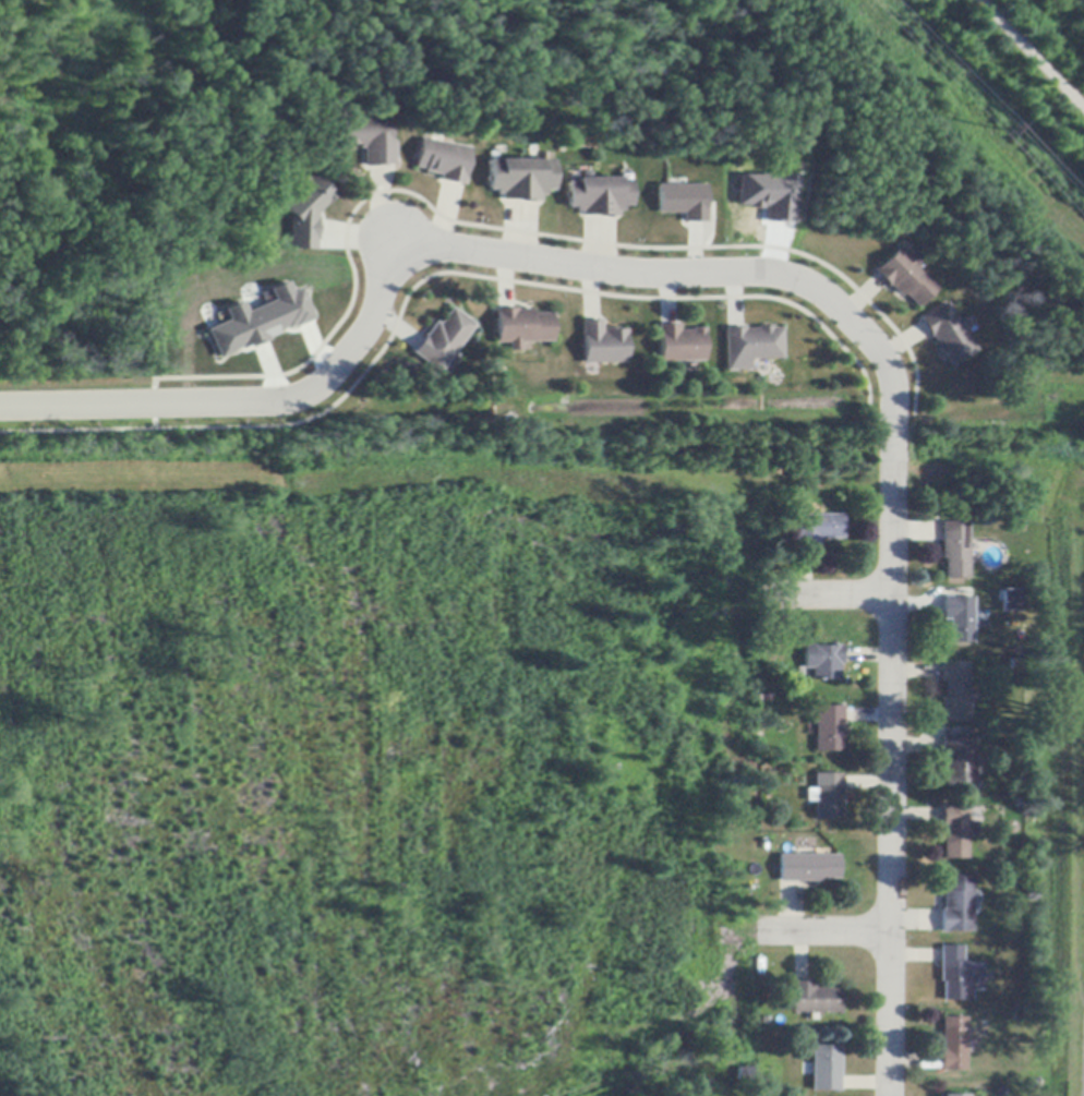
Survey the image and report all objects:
road: (1029, 56)
power tower: (999, 128)
building: (370, 141)
building: (441, 160)
building: (519, 179)
building: (767, 194)
building: (598, 196)
building: (679, 200)
building: (304, 208)
road: (776, 275)
building: (904, 277)
building: (260, 318)
building: (521, 327)
building: (947, 334)
building: (442, 340)
building: (602, 344)
building: (752, 344)
building: (679, 345)
building: (818, 529)
building: (956, 550)
road: (826, 593)
building: (1011, 599)
building: (959, 618)
building: (822, 662)
building: (954, 692)
building: (829, 730)
building: (957, 762)
building: (826, 797)
building: (955, 832)
building: (807, 869)
building: (955, 905)
road: (820, 932)
building: (956, 975)
building: (812, 999)
building: (951, 1045)
building: (823, 1069)
building: (744, 1074)
building: (951, 1095)

